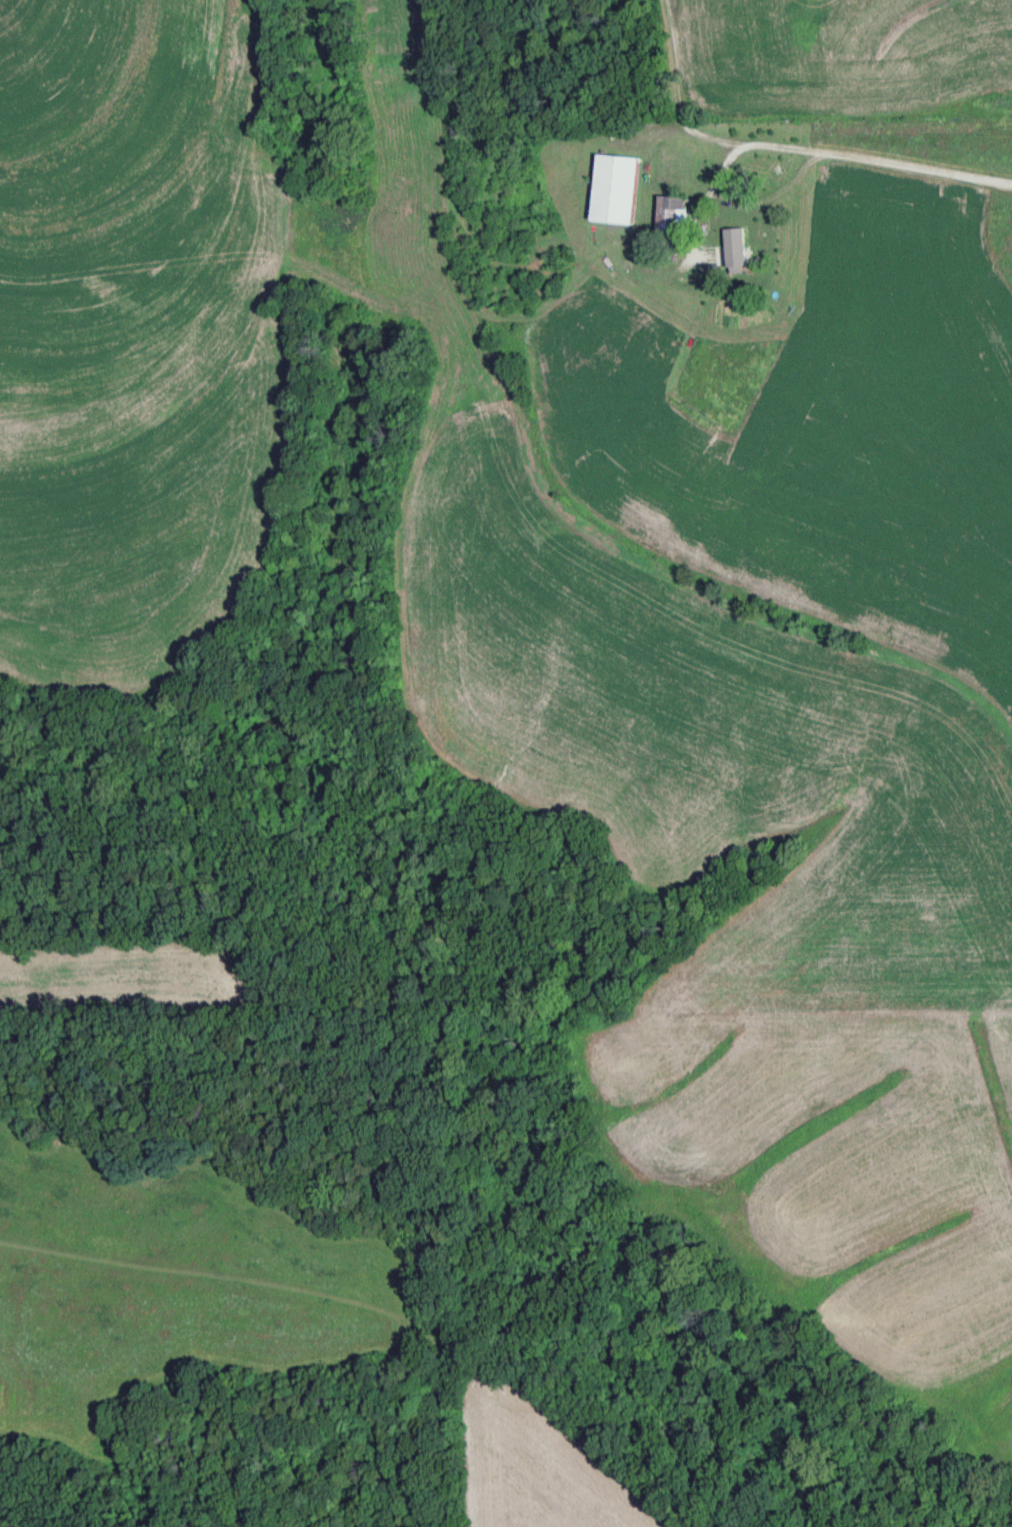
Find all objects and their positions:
road: (774, 134)
building: (614, 192)
building: (668, 219)
building: (737, 251)

